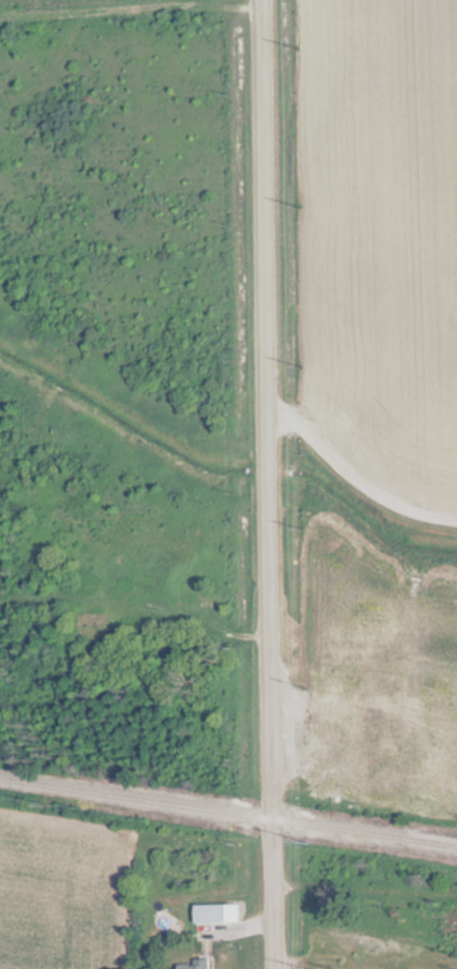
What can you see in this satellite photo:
road: (266, 484)
railway: (228, 814)
building: (213, 913)
building: (195, 967)

